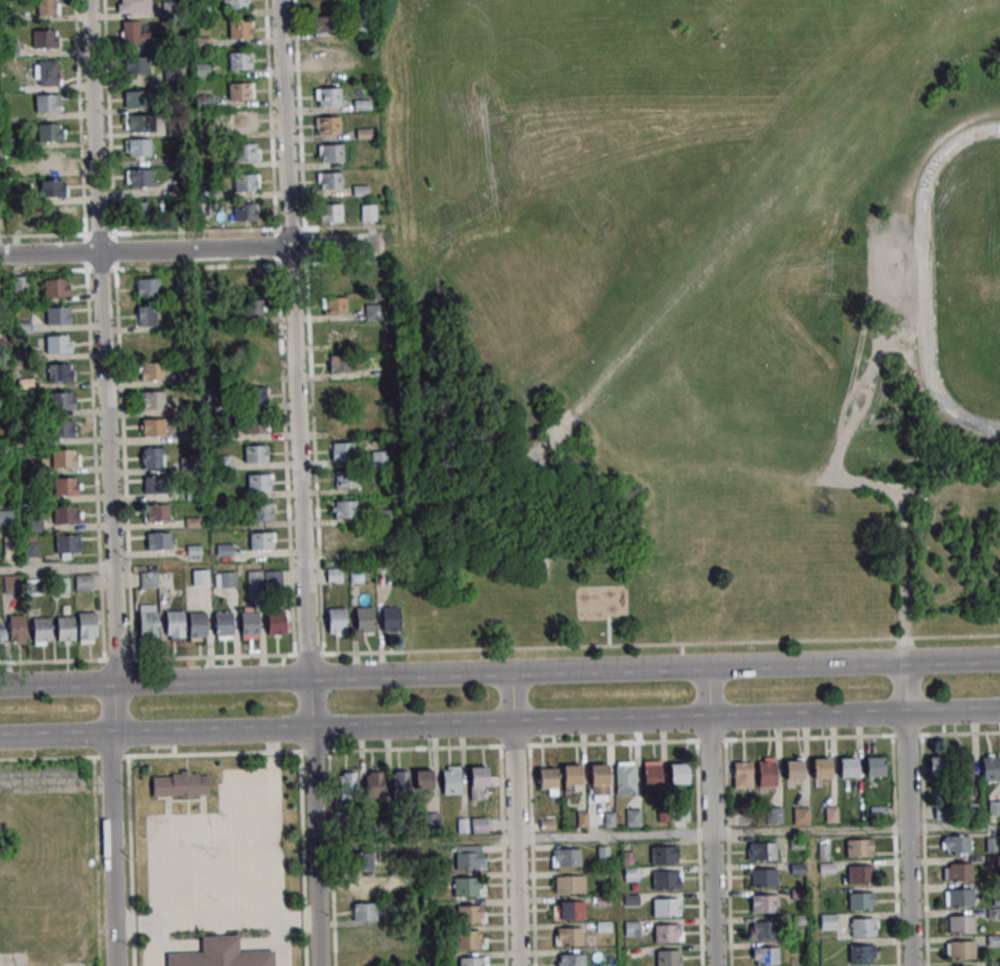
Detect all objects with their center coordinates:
building: (235, 4)
building: (133, 6)
building: (47, 7)
building: (322, 24)
building: (239, 30)
building: (133, 33)
building: (47, 38)
building: (324, 53)
building: (240, 61)
building: (135, 65)
building: (46, 72)
building: (240, 91)
building: (328, 96)
building: (137, 99)
building: (47, 103)
building: (243, 121)
building: (139, 122)
road: (283, 124)
building: (327, 125)
building: (50, 132)
building: (364, 134)
building: (137, 147)
building: (247, 152)
building: (330, 153)
building: (49, 160)
building: (138, 178)
building: (329, 181)
building: (246, 182)
building: (53, 188)
building: (138, 212)
building: (245, 212)
building: (368, 212)
building: (331, 213)
building: (53, 216)
road: (335, 247)
road: (144, 252)
road: (925, 278)
building: (336, 279)
building: (251, 280)
building: (20, 284)
building: (56, 287)
building: (146, 287)
building: (335, 305)
building: (254, 308)
building: (372, 312)
building: (58, 315)
building: (146, 316)
track: (925, 317)
park: (693, 318)
building: (336, 335)
building: (251, 337)
road: (104, 343)
building: (150, 343)
building: (58, 344)
building: (339, 364)
building: (254, 366)
building: (151, 371)
building: (62, 372)
building: (339, 392)
building: (255, 397)
building: (62, 400)
building: (153, 400)
building: (340, 422)
building: (256, 425)
building: (153, 427)
building: (64, 431)
building: (341, 451)
building: (256, 454)
building: (152, 457)
building: (66, 458)
building: (344, 480)
road: (856, 481)
building: (259, 483)
building: (154, 485)
building: (66, 486)
building: (344, 509)
building: (157, 512)
building: (262, 512)
building: (66, 514)
building: (384, 514)
building: (6, 518)
building: (33, 523)
building: (343, 539)
building: (158, 541)
building: (262, 541)
building: (67, 546)
building: (196, 550)
road: (57, 567)
building: (334, 575)
building: (356, 575)
building: (200, 577)
building: (225, 579)
building: (148, 580)
building: (84, 583)
building: (11, 584)
building: (62, 584)
building: (34, 585)
road: (307, 607)
building: (390, 619)
building: (148, 620)
building: (365, 620)
building: (337, 622)
building: (276, 623)
building: (250, 624)
building: (174, 625)
building: (223, 625)
building: (197, 626)
building: (87, 627)
building: (17, 629)
building: (41, 630)
building: (66, 630)
road: (609, 631)
building: (0, 634)
road: (499, 674)
road: (906, 687)
road: (710, 692)
road: (512, 697)
road: (499, 720)
road: (499, 746)
building: (875, 767)
building: (938, 767)
building: (849, 768)
building: (963, 768)
building: (991, 768)
building: (822, 769)
building: (794, 770)
building: (679, 774)
building: (767, 774)
building: (572, 775)
building: (743, 775)
building: (479, 777)
building: (548, 778)
building: (599, 778)
building: (653, 778)
building: (424, 780)
building: (451, 780)
building: (625, 780)
building: (401, 782)
building: (375, 783)
building: (348, 784)
building: (180, 785)
building: (994, 807)
building: (941, 811)
building: (878, 812)
building: (775, 815)
building: (801, 815)
building: (634, 818)
road: (111, 825)
building: (462, 825)
building: (479, 825)
road: (757, 832)
road: (171, 835)
road: (910, 837)
road: (713, 840)
building: (991, 841)
road: (516, 842)
building: (957, 845)
road: (276, 846)
building: (859, 849)
road: (924, 850)
building: (762, 852)
road: (699, 853)
road: (728, 853)
building: (664, 855)
building: (470, 857)
building: (567, 858)
building: (362, 861)
building: (826, 868)
building: (960, 873)
building: (631, 874)
building: (861, 875)
building: (764, 878)
building: (665, 881)
building: (397, 883)
building: (570, 885)
building: (364, 886)
building: (469, 886)
building: (961, 899)
building: (861, 903)
building: (765, 904)
building: (666, 908)
building: (571, 911)
building: (364, 912)
building: (470, 915)
road: (215, 921)
building: (828, 921)
building: (962, 925)
building: (632, 928)
building: (864, 928)
building: (762, 930)
building: (667, 933)
building: (363, 937)
building: (569, 937)
building: (469, 940)
building: (997, 940)
building: (961, 951)
building: (221, 954)
building: (862, 955)
building: (766, 956)
building: (668, 957)
building: (572, 960)
building: (471, 962)

